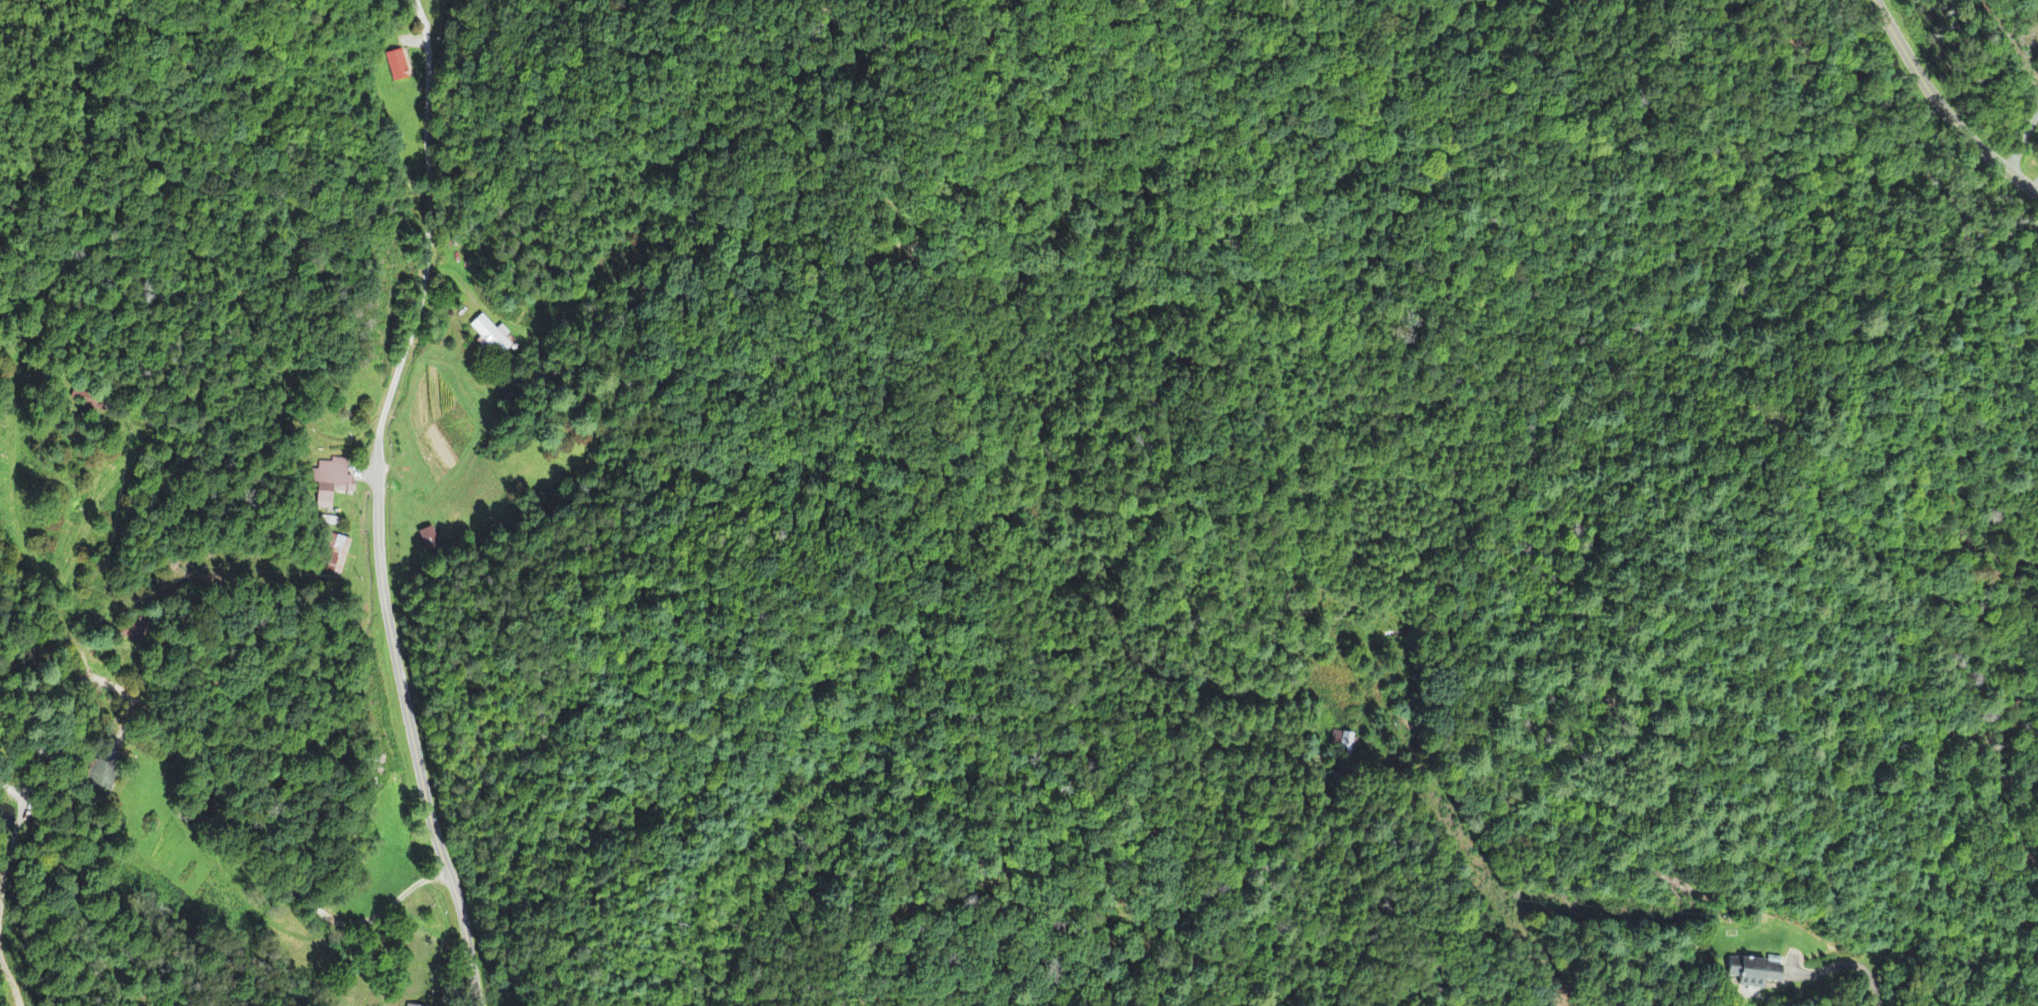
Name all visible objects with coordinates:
building: (399, 68)
road: (1969, 74)
building: (492, 337)
road: (378, 504)
building: (430, 541)
building: (336, 554)
road: (66, 632)
road: (255, 841)
road: (1855, 967)
building: (1759, 976)

